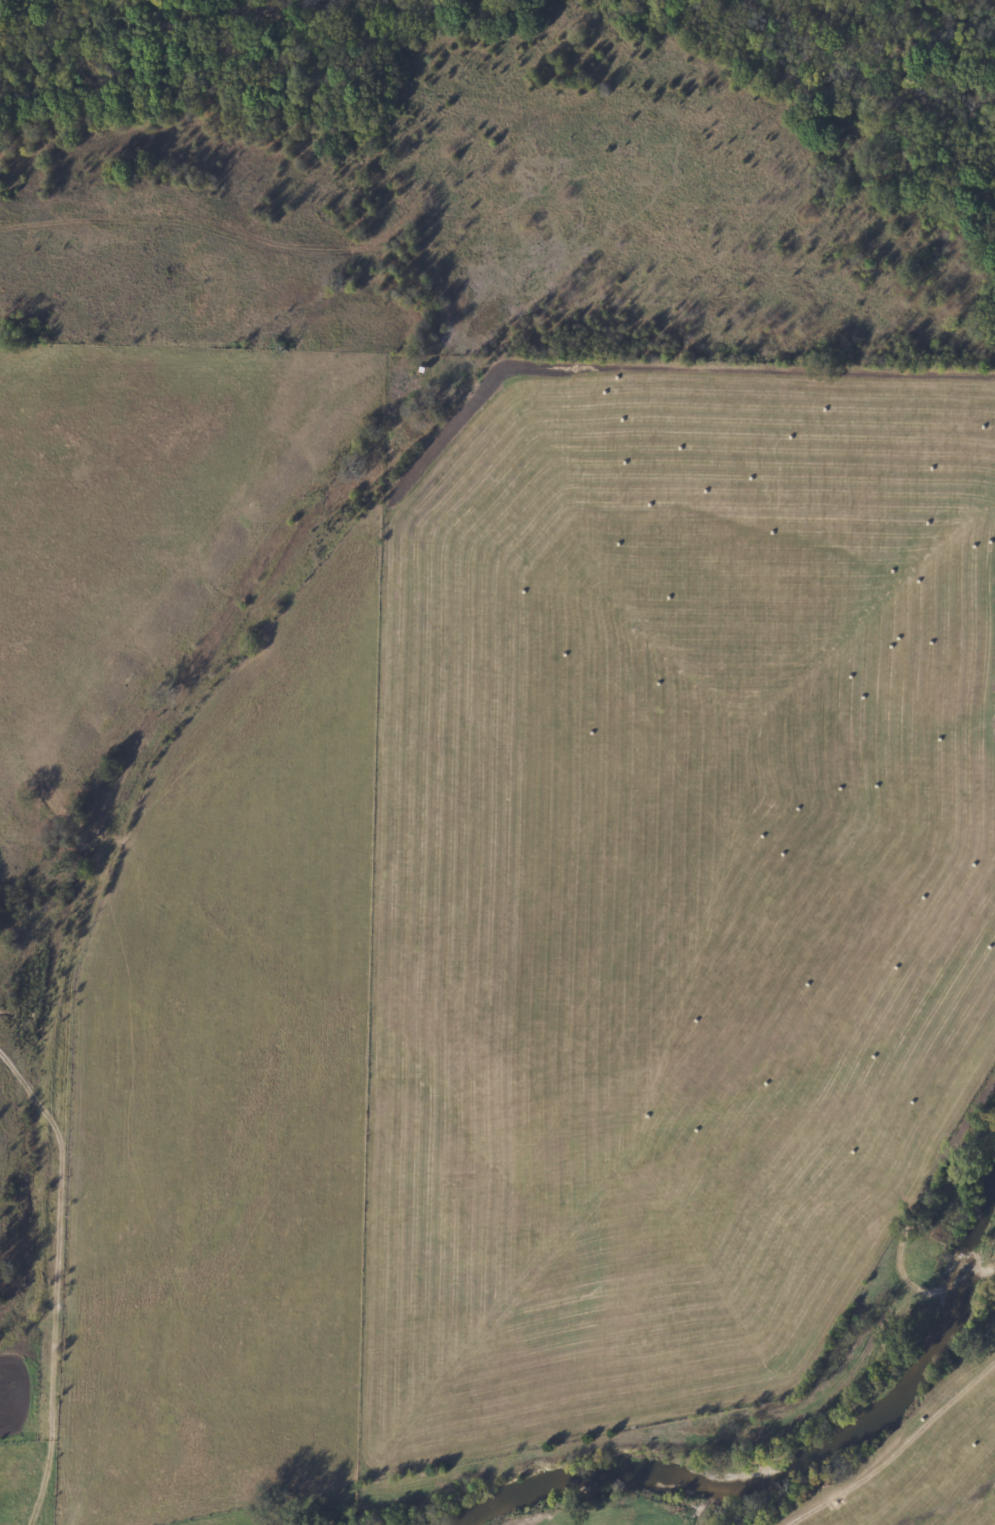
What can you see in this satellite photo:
river: (784, 1473)

